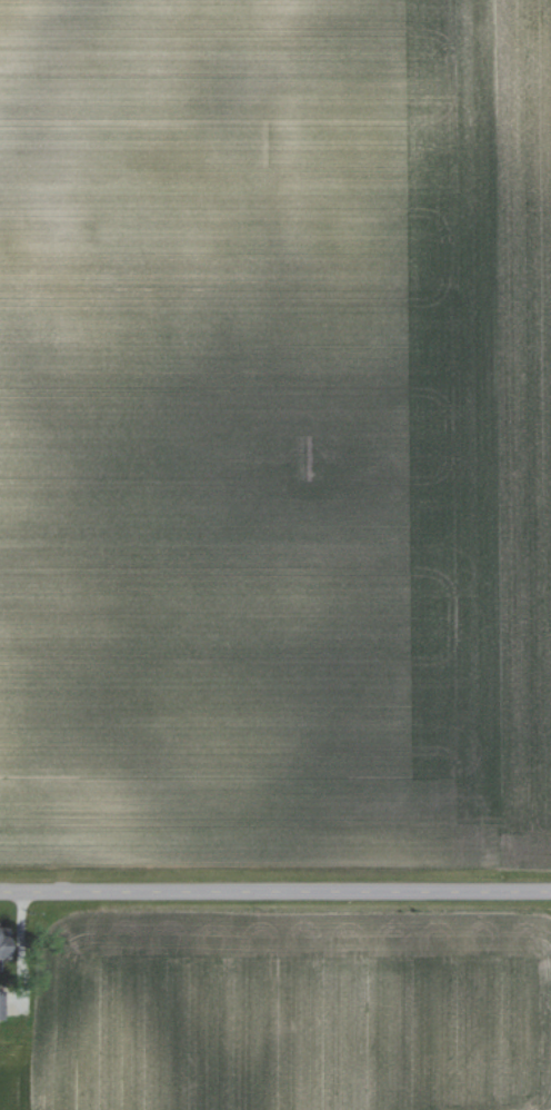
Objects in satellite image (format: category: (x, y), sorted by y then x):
road: (275, 882)
building: (0, 945)

